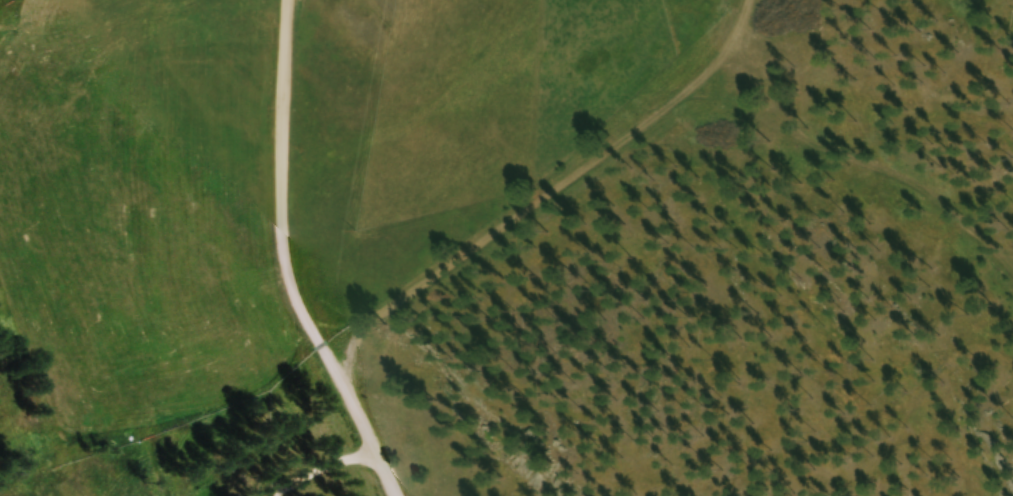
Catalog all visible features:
road: (537, 187)
road: (274, 194)
road: (368, 435)

